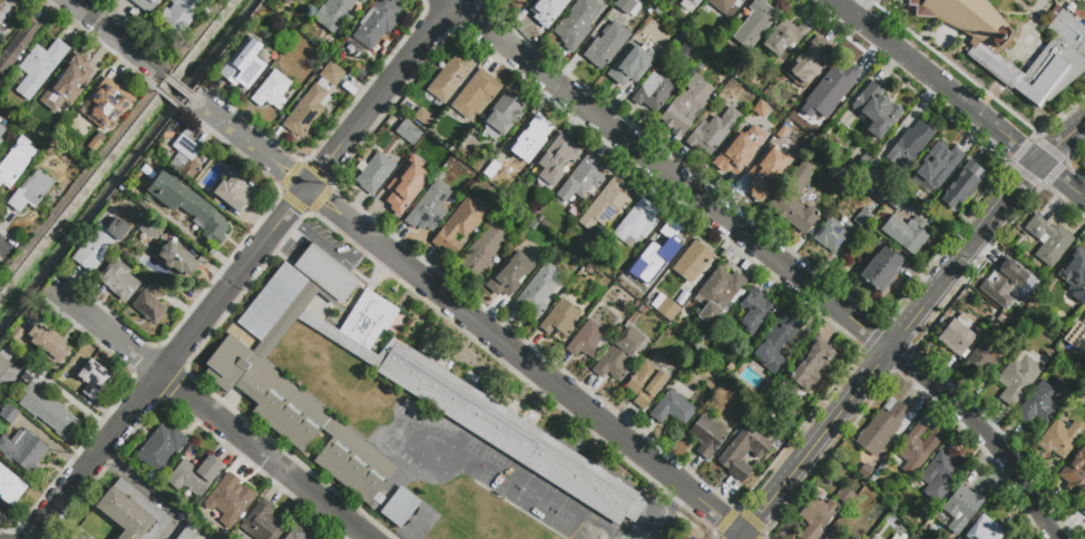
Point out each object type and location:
building: (362, 1)
building: (678, 1)
building: (694, 2)
building: (147, 3)
building: (515, 3)
building: (726, 6)
building: (628, 7)
building: (6, 9)
road: (864, 9)
building: (547, 11)
building: (334, 13)
building: (179, 16)
building: (378, 22)
building: (577, 22)
building: (755, 22)
road: (118, 38)
building: (784, 39)
building: (18, 45)
building: (606, 46)
building: (1064, 52)
building: (688, 55)
building: (809, 62)
building: (244, 63)
building: (632, 63)
building: (39, 67)
building: (332, 73)
building: (450, 77)
road: (156, 78)
building: (837, 80)
road: (937, 80)
building: (71, 86)
road: (177, 86)
building: (272, 90)
building: (653, 92)
building: (476, 95)
road: (168, 98)
building: (107, 104)
road: (194, 106)
building: (686, 106)
road: (184, 108)
building: (306, 111)
building: (876, 111)
building: (504, 116)
building: (423, 118)
building: (2, 130)
building: (714, 131)
building: (409, 133)
building: (526, 139)
building: (1, 141)
road: (248, 141)
road: (1062, 141)
building: (911, 143)
building: (95, 145)
building: (733, 156)
building: (184, 157)
building: (557, 159)
building: (16, 160)
building: (936, 167)
building: (374, 173)
building: (765, 173)
building: (842, 177)
building: (583, 180)
road: (1062, 180)
building: (870, 186)
building: (962, 186)
building: (30, 190)
building: (398, 190)
building: (236, 192)
building: (897, 200)
building: (188, 205)
building: (606, 205)
building: (430, 208)
building: (793, 214)
building: (862, 219)
building: (460, 224)
building: (637, 224)
building: (150, 228)
building: (134, 232)
building: (906, 233)
building: (830, 236)
building: (1049, 242)
building: (664, 243)
building: (98, 245)
road: (2, 247)
road: (328, 248)
building: (483, 252)
building: (125, 253)
road: (769, 254)
road: (962, 254)
building: (177, 258)
building: (692, 262)
building: (881, 268)
road: (244, 269)
building: (511, 273)
building: (1074, 274)
building: (119, 280)
building: (1004, 282)
building: (156, 288)
building: (538, 291)
building: (720, 294)
building: (148, 305)
building: (1073, 308)
building: (667, 310)
building: (754, 311)
building: (1084, 314)
building: (559, 320)
building: (957, 336)
building: (1075, 337)
building: (587, 340)
building: (41, 342)
building: (775, 343)
building: (618, 354)
building: (985, 356)
road: (525, 361)
building: (810, 364)
building: (7, 367)
building: (1017, 375)
building: (94, 380)
building: (645, 383)
building: (436, 389)
building: (82, 400)
building: (1043, 401)
building: (45, 404)
building: (673, 409)
building: (9, 413)
road: (206, 414)
park: (417, 422)
park: (432, 425)
building: (884, 427)
park: (449, 429)
building: (705, 437)
building: (1062, 439)
road: (815, 441)
building: (160, 448)
building: (913, 450)
building: (23, 451)
building: (743, 453)
park: (437, 462)
building: (1076, 470)
building: (939, 472)
building: (195, 476)
building: (10, 486)
park: (500, 487)
building: (162, 490)
building: (844, 496)
building: (228, 498)
park: (539, 499)
building: (966, 503)
building: (400, 507)
building: (1083, 509)
building: (133, 512)
park: (423, 514)
building: (817, 517)
park: (579, 522)
building: (263, 523)
building: (983, 529)
park: (411, 530)
building: (189, 531)
building: (296, 533)
park: (528, 533)
road: (741, 536)
road: (745, 536)
building: (831, 536)
building: (76, 538)
building: (82, 538)
building: (88, 538)
building: (868, 538)

